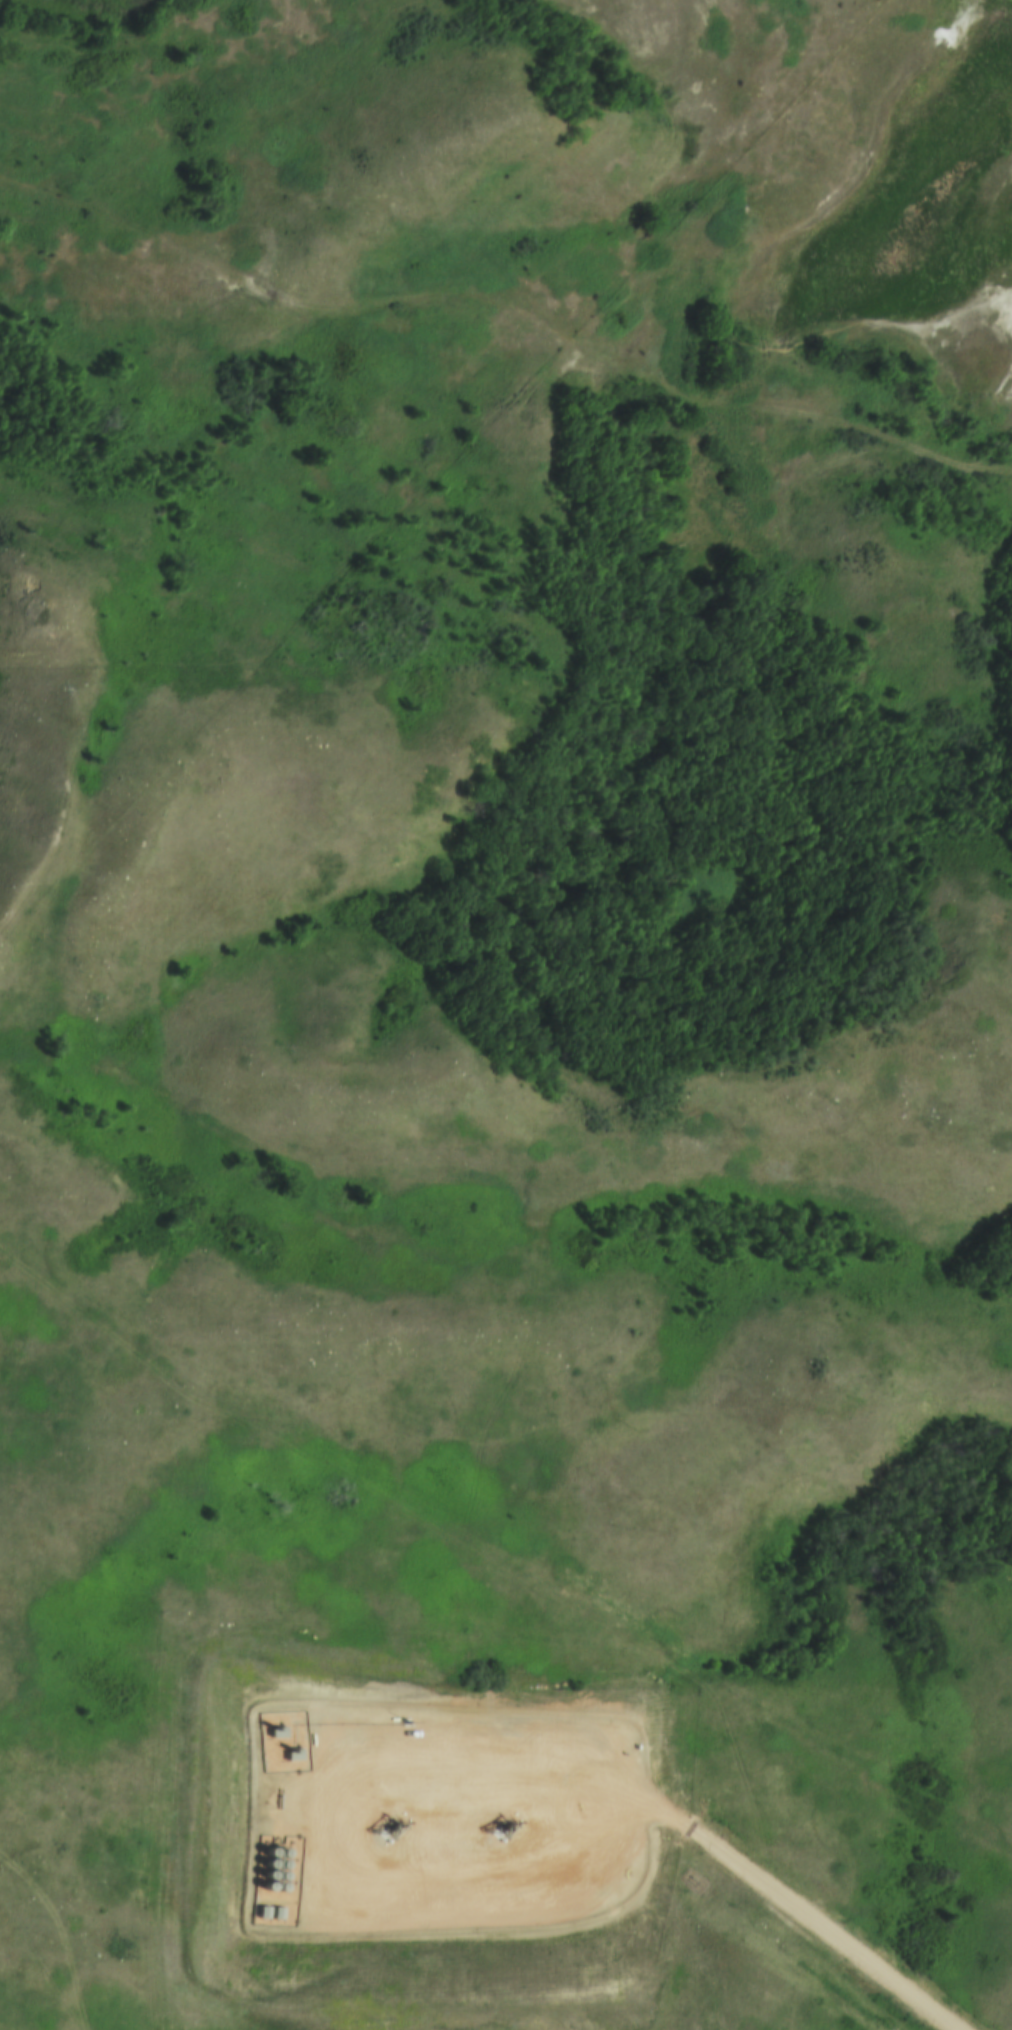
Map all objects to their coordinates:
petroleum well: (387, 1826)
petroleum well: (499, 1828)
building: (267, 1852)
storage tank: (267, 1852)
building: (279, 1854)
storage tank: (279, 1854)
building: (266, 1863)
storage tank: (266, 1863)
building: (279, 1865)
storage tank: (279, 1865)
building: (266, 1874)
storage tank: (266, 1874)
building: (279, 1876)
storage tank: (279, 1876)
building: (265, 1886)
storage tank: (265, 1886)
building: (278, 1887)
storage tank: (278, 1887)
road: (809, 1904)
building: (263, 1906)
building: (277, 1907)

